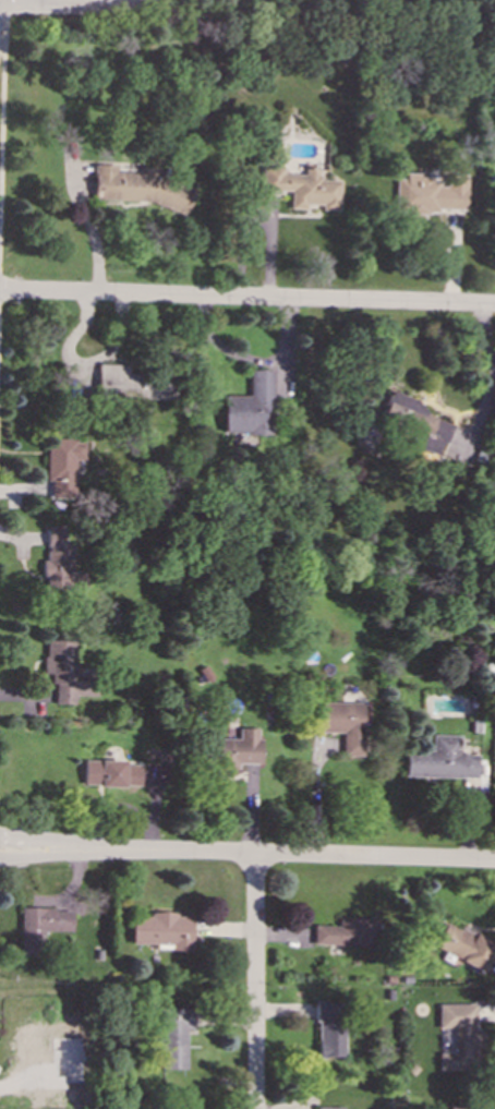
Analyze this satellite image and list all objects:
road: (53, 0)
road: (80, 2)
road: (2, 88)
building: (141, 188)
building: (302, 188)
building: (430, 193)
road: (95, 230)
road: (246, 296)
road: (493, 375)
building: (132, 383)
building: (250, 406)
building: (416, 423)
building: (62, 465)
building: (60, 563)
building: (63, 670)
building: (346, 724)
building: (236, 749)
building: (440, 759)
building: (109, 773)
road: (44, 837)
road: (291, 852)
road: (44, 856)
building: (40, 927)
building: (161, 930)
building: (347, 932)
building: (463, 945)
road: (254, 980)
building: (328, 1028)
building: (174, 1036)
building: (459, 1037)
building: (463, 1107)
building: (327, 1108)

